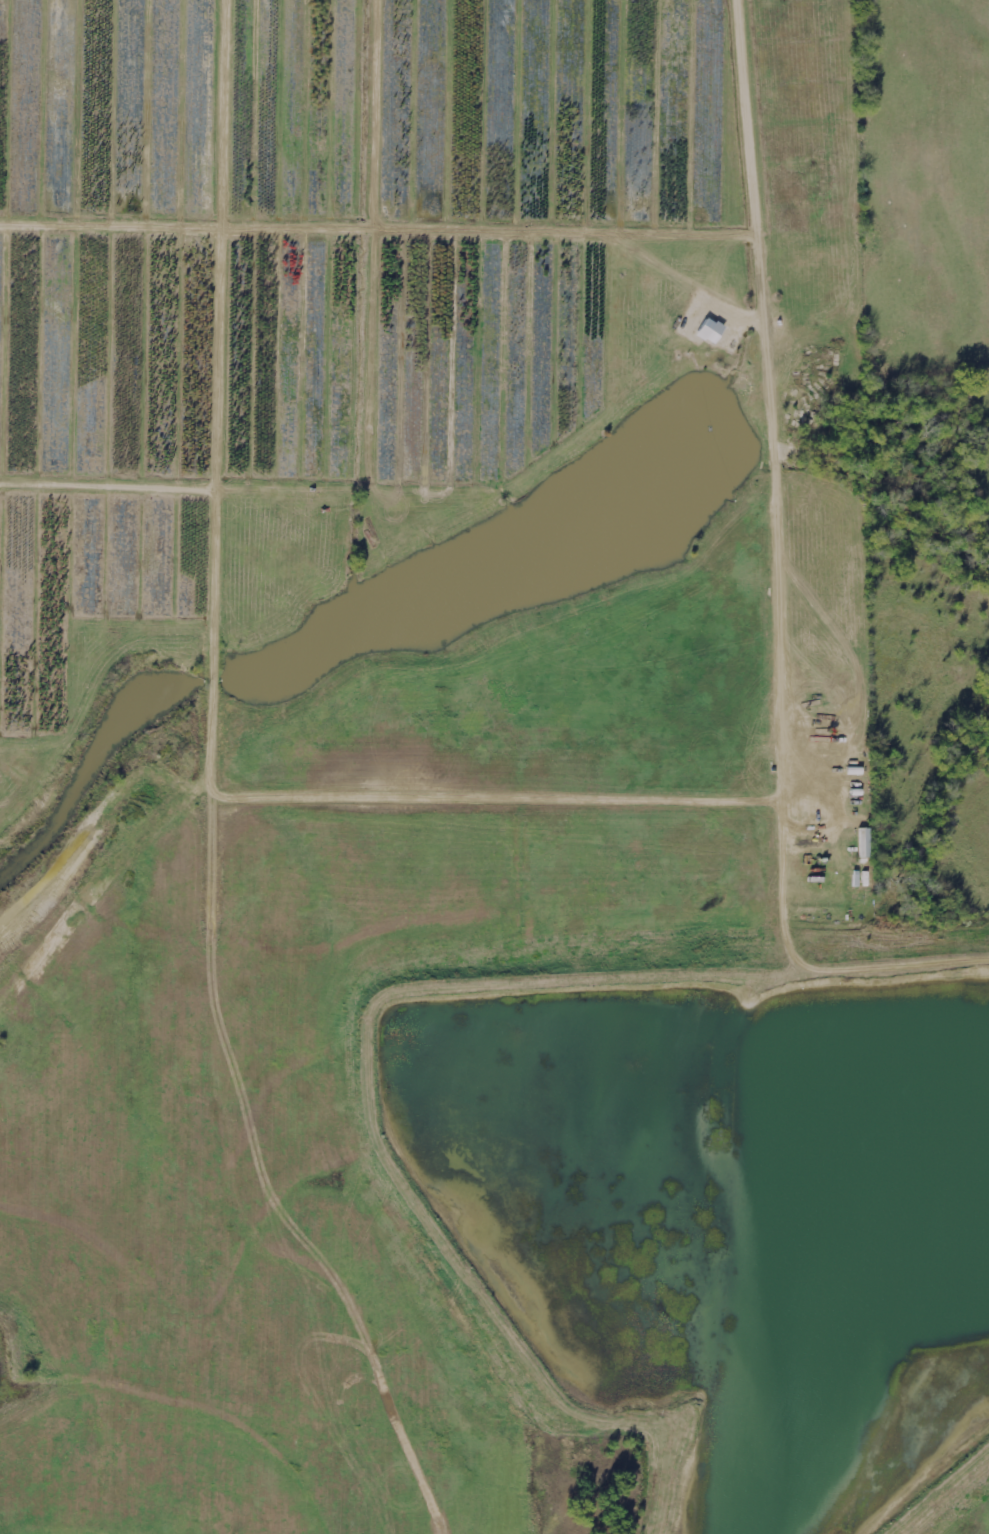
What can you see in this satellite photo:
building: (715, 332)
building: (863, 843)

